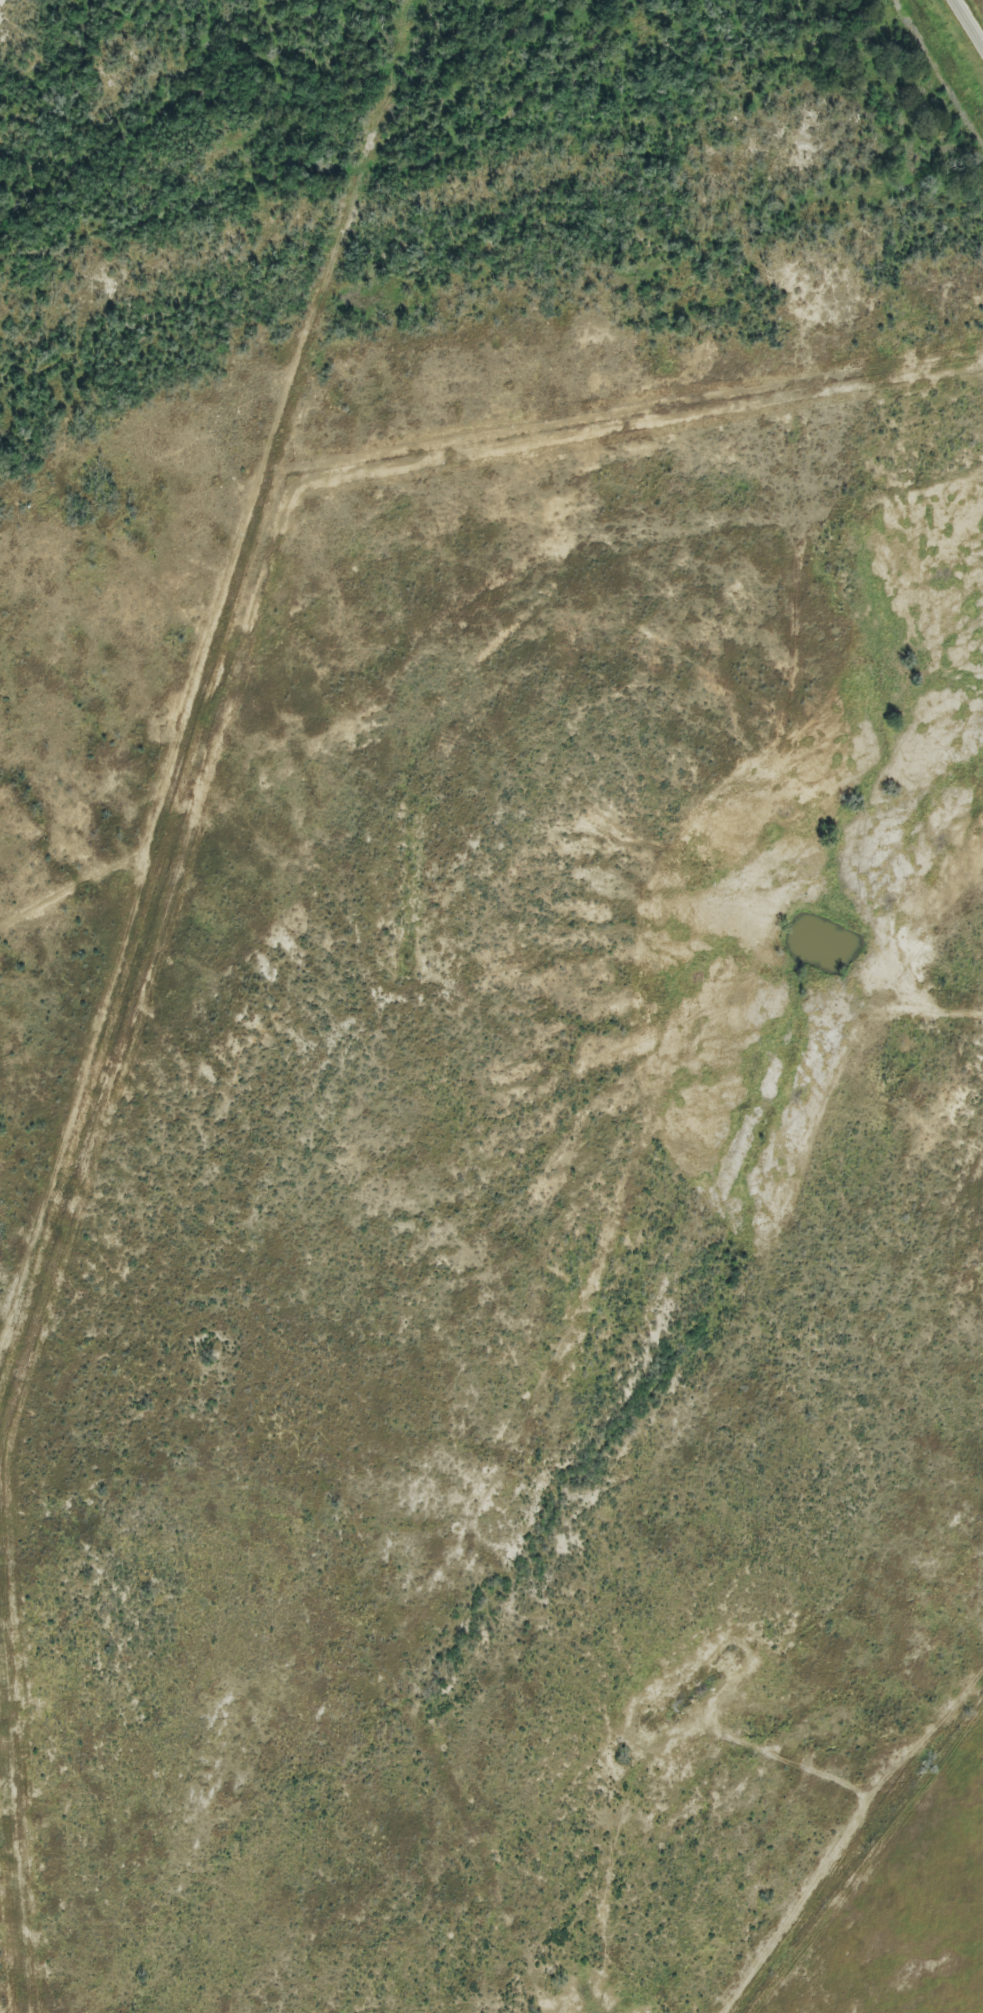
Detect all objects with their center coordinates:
road: (969, 22)

